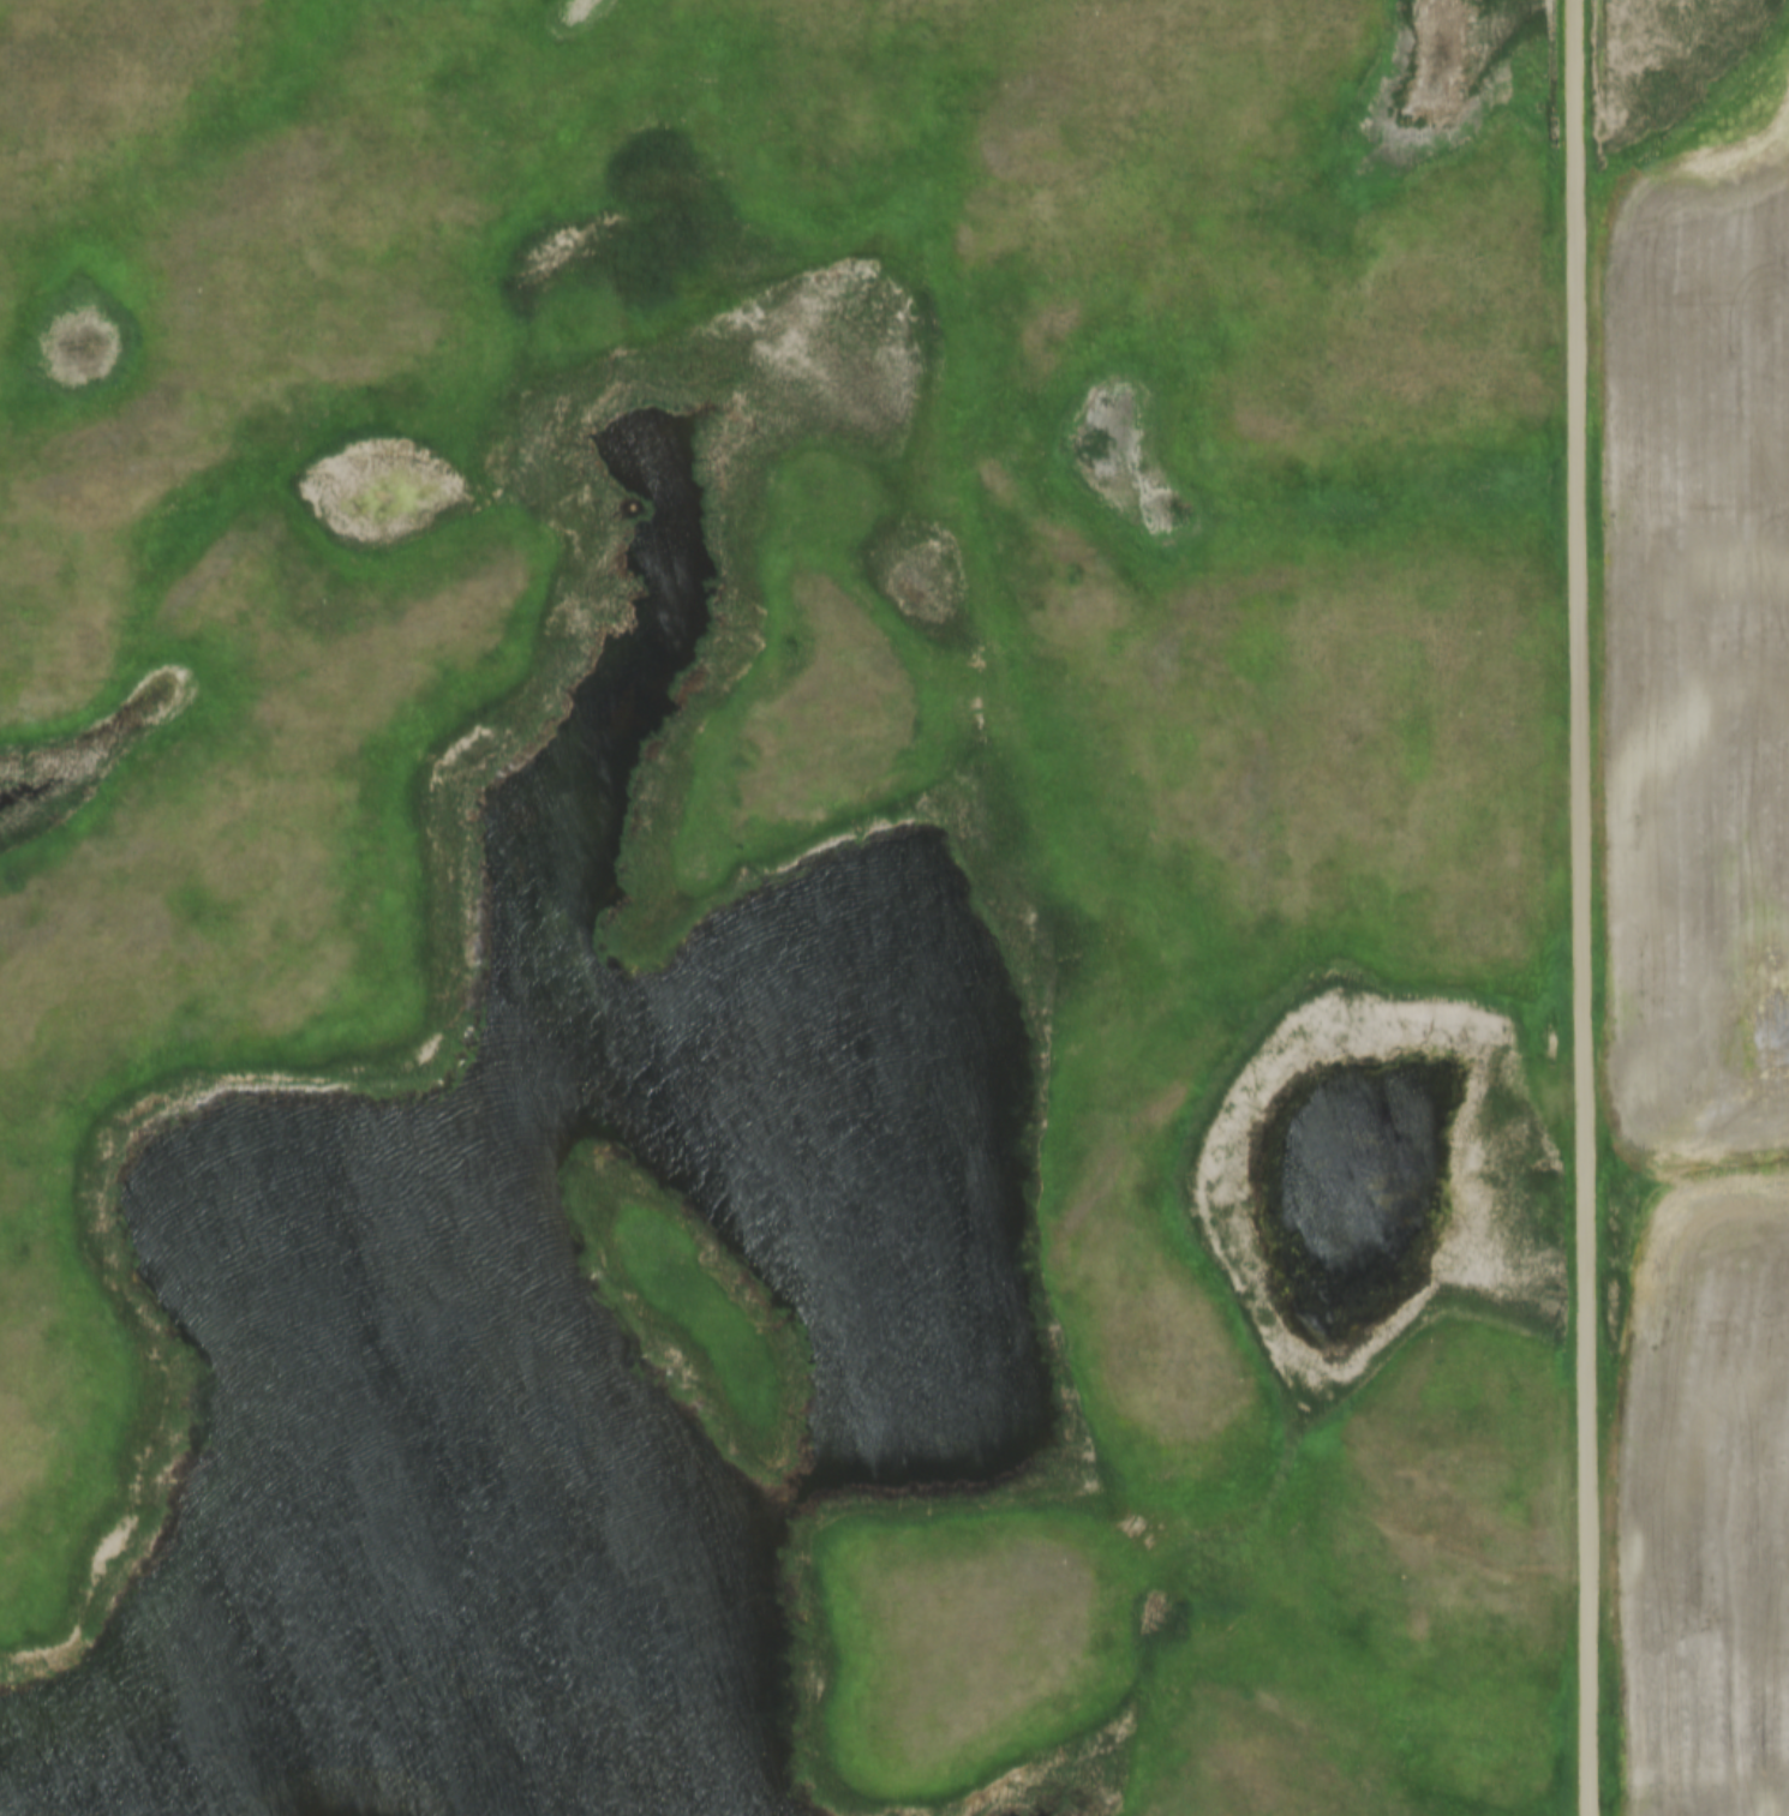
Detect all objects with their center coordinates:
road: (1585, 907)

